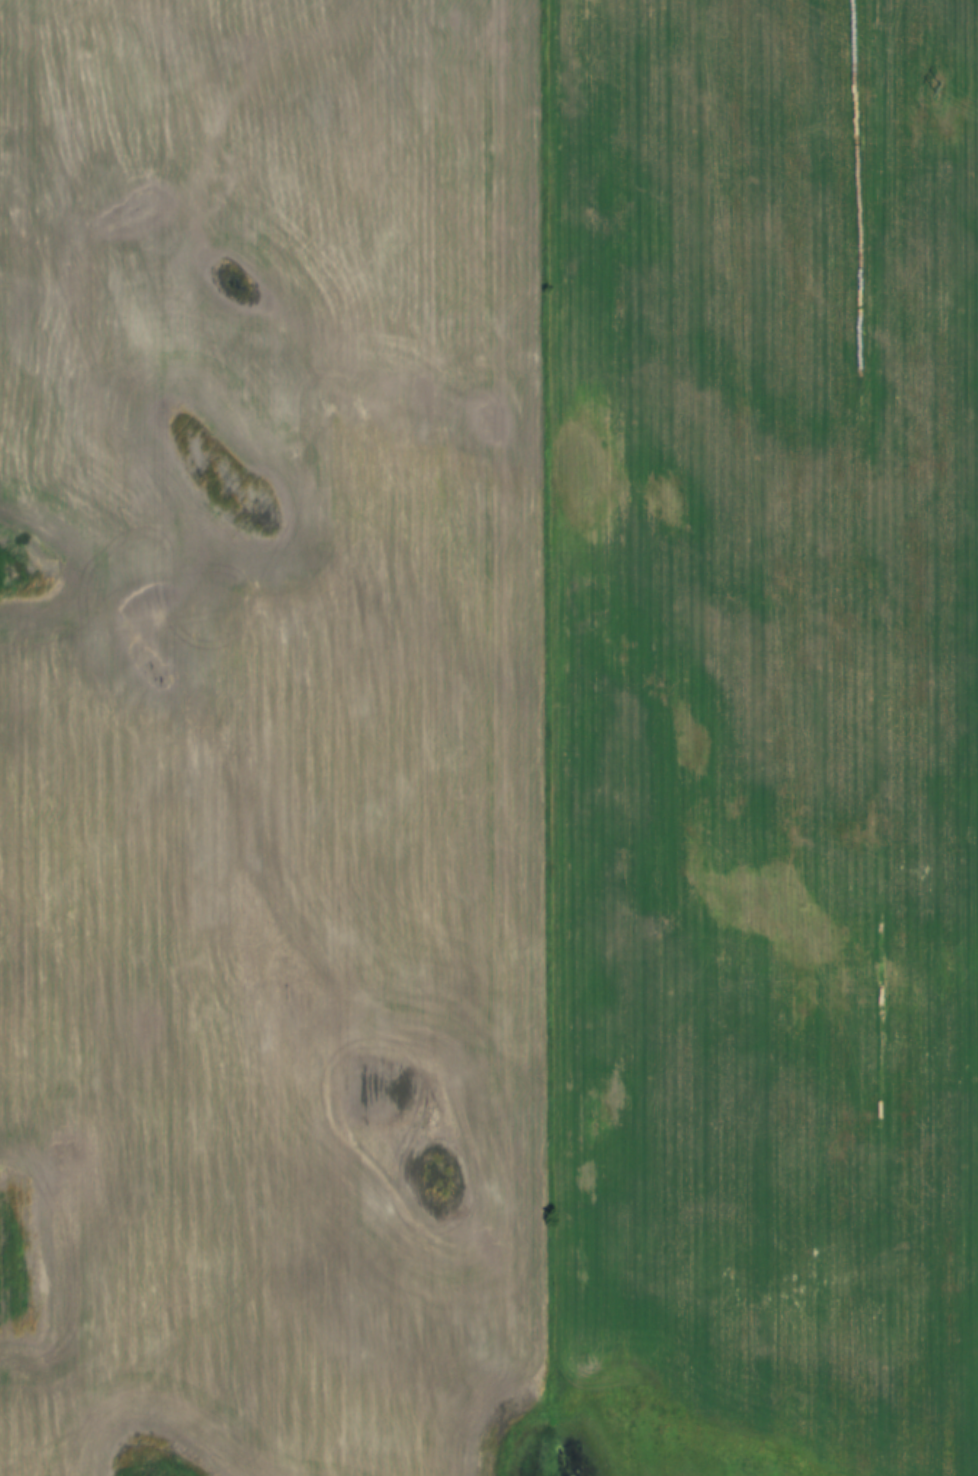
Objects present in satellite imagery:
power tower: (936, 87)

